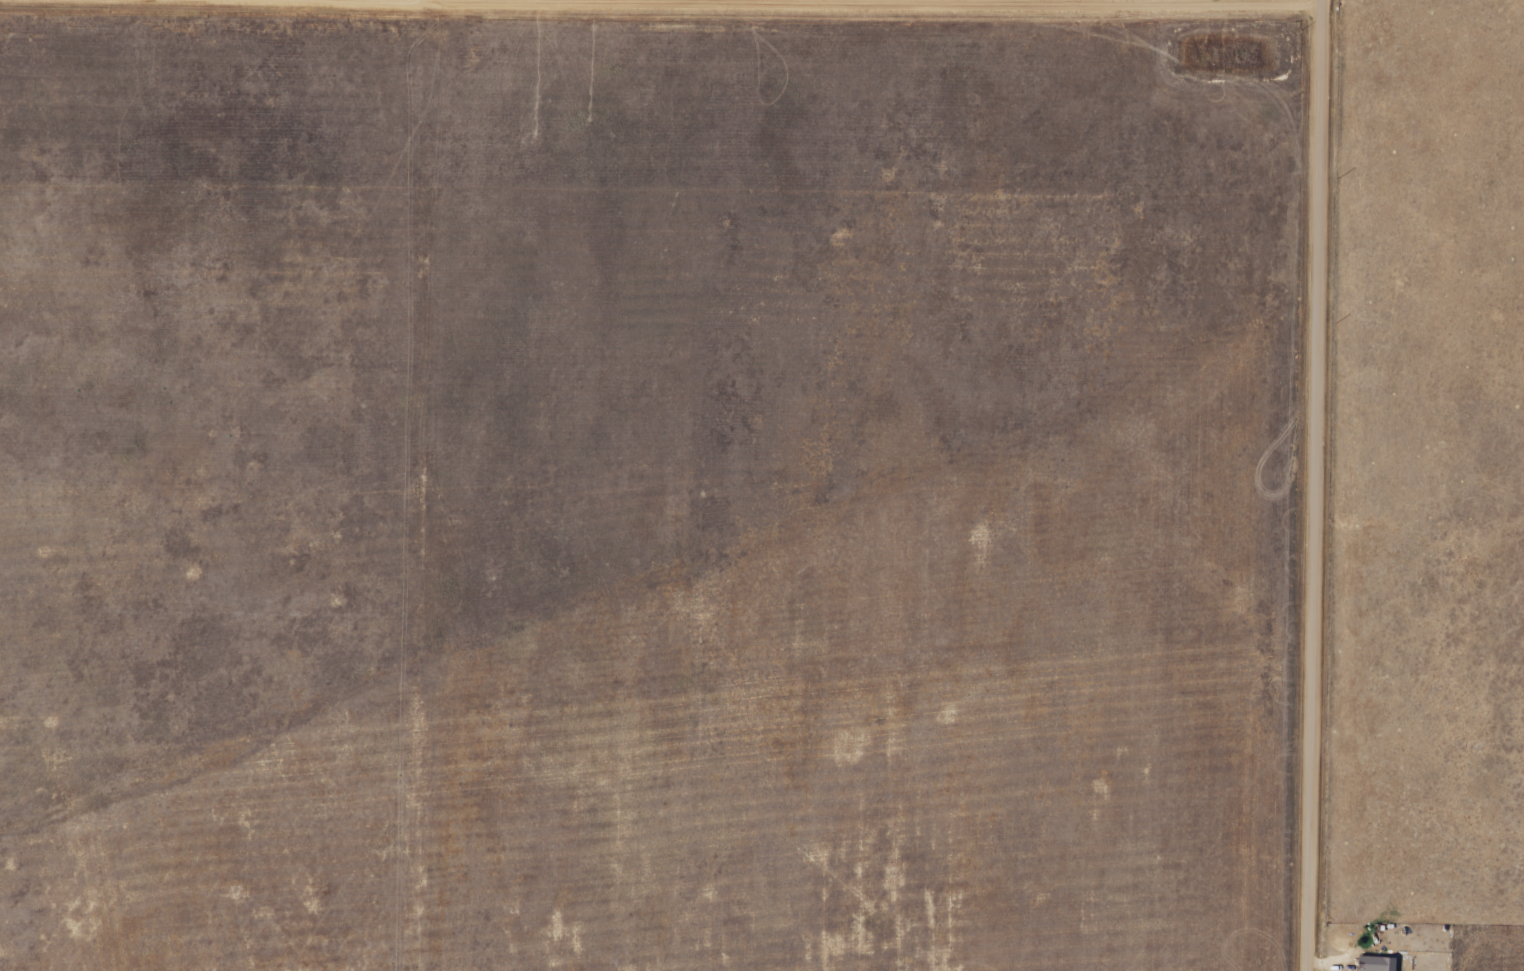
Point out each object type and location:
road: (1134, 1)
road: (1316, 485)

